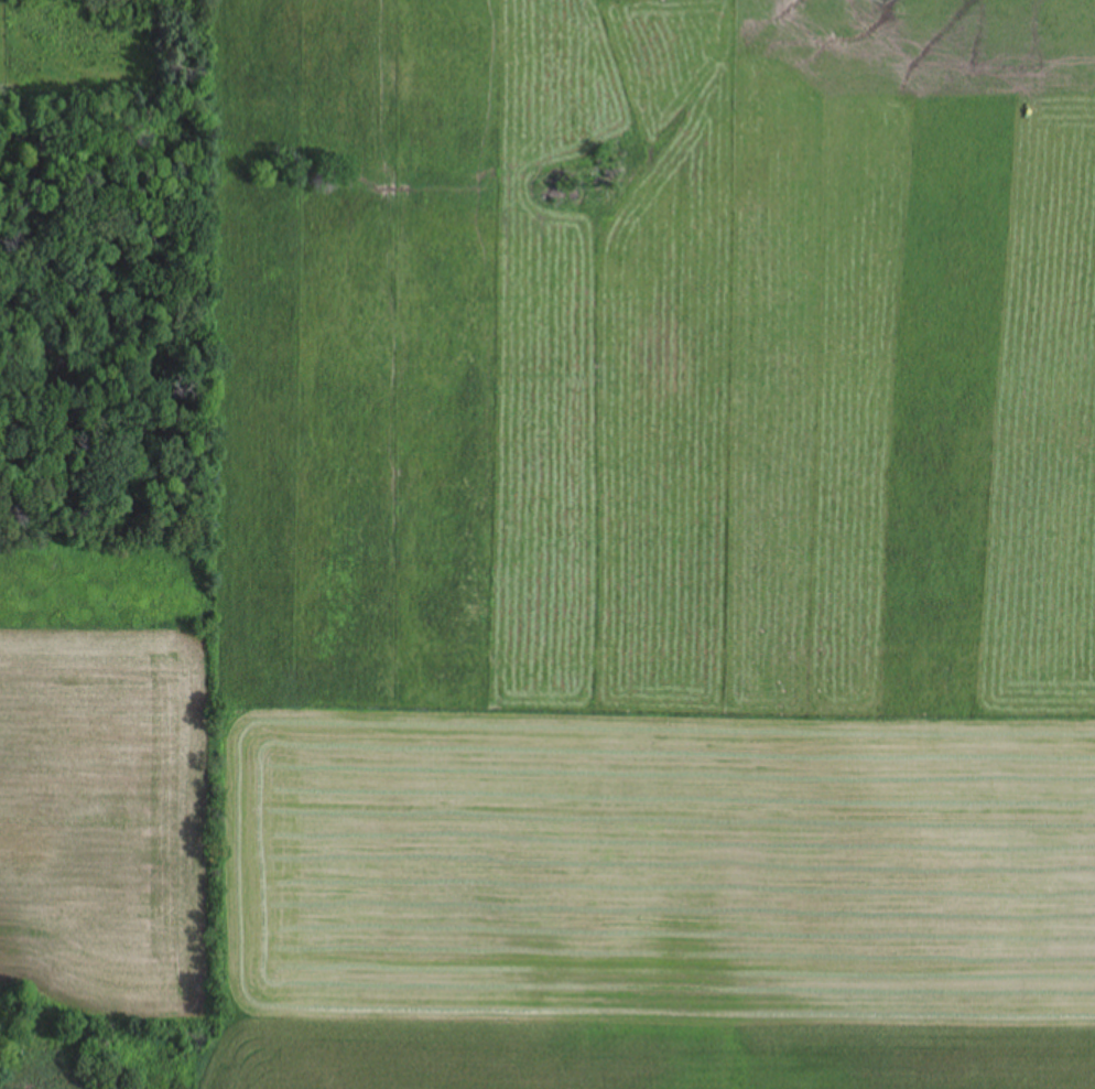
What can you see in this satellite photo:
crop: (608, 567)

